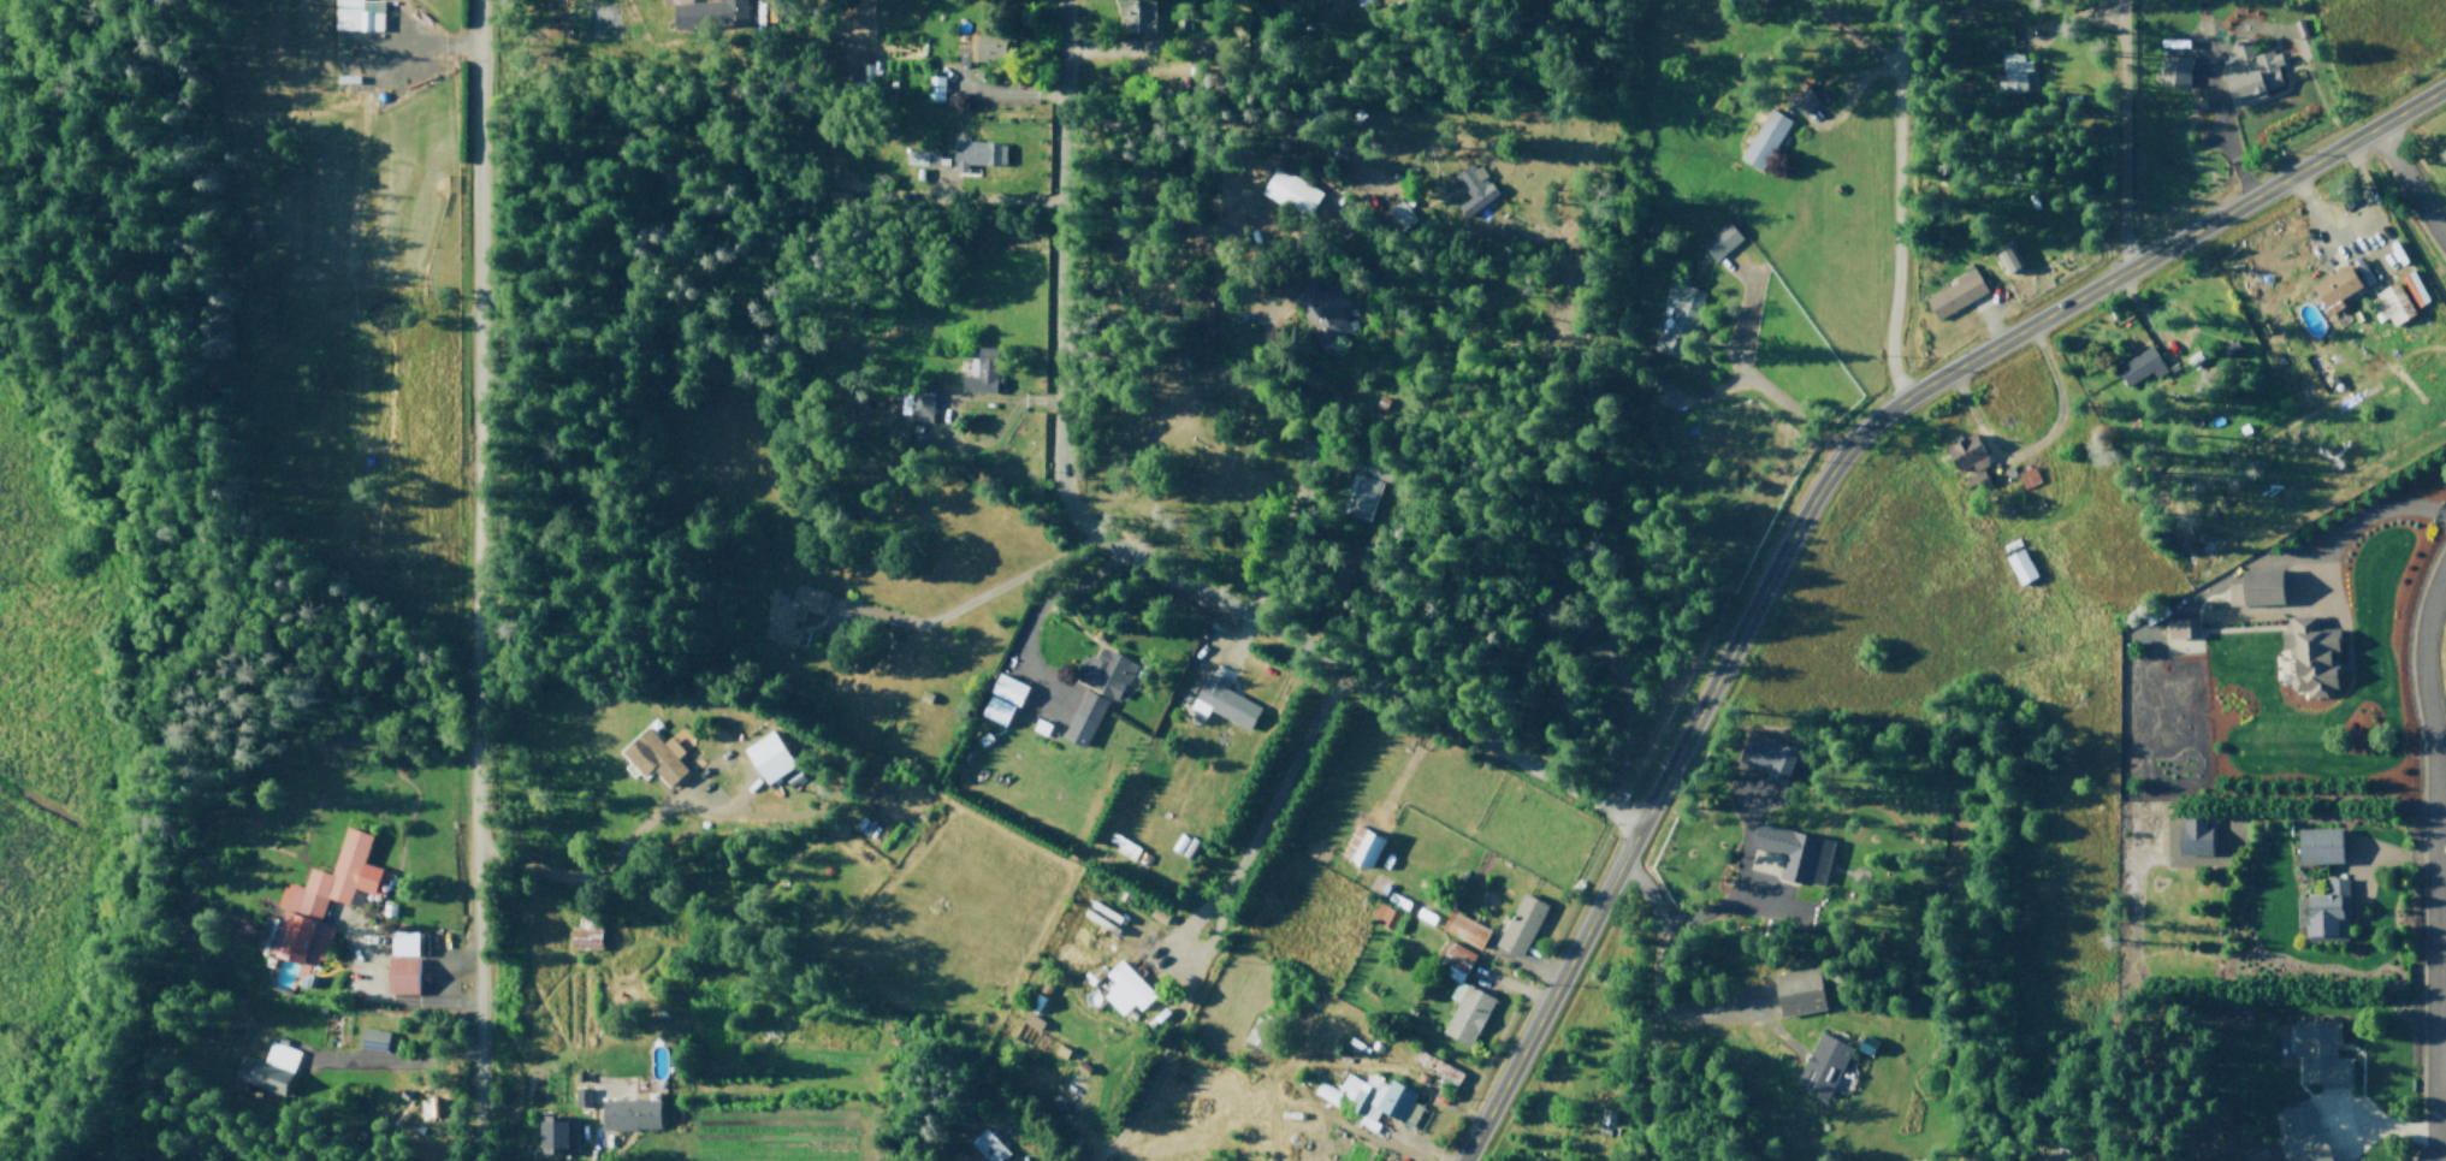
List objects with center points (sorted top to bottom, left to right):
building: (1767, 0)
building: (772, 10)
building: (712, 12)
building: (1136, 14)
road: (2069, 14)
building: (355, 16)
road: (1850, 35)
building: (989, 43)
road: (410, 46)
building: (2309, 47)
road: (1227, 48)
road: (2054, 48)
road: (12, 53)
building: (966, 54)
building: (2172, 70)
building: (2249, 75)
building: (2013, 76)
road: (2069, 77)
building: (938, 87)
road: (990, 90)
building: (1806, 90)
road: (1852, 91)
road: (1231, 117)
road: (2205, 119)
road: (2124, 136)
building: (1763, 138)
building: (976, 155)
building: (920, 159)
road: (2411, 182)
building: (1290, 194)
building: (840, 197)
road: (989, 200)
building: (1476, 201)
road: (1897, 201)
road: (2317, 208)
building: (1719, 243)
building: (2006, 260)
building: (1226, 285)
building: (2335, 289)
building: (1958, 291)
building: (2400, 300)
road: (2121, 310)
road: (1742, 312)
building: (1321, 313)
road: (1252, 319)
road: (1991, 321)
building: (1677, 324)
building: (2223, 351)
building: (2138, 365)
building: (984, 371)
road: (1719, 374)
building: (912, 401)
road: (943, 409)
road: (2032, 449)
road: (1337, 450)
building: (1970, 463)
building: (2030, 475)
road: (1301, 481)
road: (1818, 494)
building: (1367, 502)
road: (2347, 521)
road: (1126, 551)
building: (2019, 567)
road: (473, 580)
road: (2215, 582)
building: (2253, 594)
road: (971, 600)
building: (788, 609)
road: (1038, 611)
building: (1558, 616)
building: (2179, 630)
road: (1234, 642)
road: (1619, 663)
building: (2305, 665)
building: (1103, 673)
building: (1005, 691)
building: (1222, 700)
building: (1080, 721)
building: (1037, 727)
building: (1766, 754)
building: (657, 757)
building: (770, 757)
road: (126, 759)
road: (1405, 768)
road: (1275, 796)
road: (656, 813)
crop: (1534, 829)
road: (2440, 833)
building: (1124, 845)
building: (2190, 845)
building: (1357, 848)
building: (906, 849)
building: (2314, 852)
building: (1795, 853)
road: (2393, 861)
road: (2433, 864)
road: (1735, 879)
road: (2439, 881)
road: (1759, 889)
building: (322, 900)
building: (2320, 912)
building: (1386, 919)
building: (1518, 925)
building: (1463, 929)
building: (587, 940)
building: (407, 943)
building: (405, 975)
building: (1124, 984)
road: (1511, 987)
building: (1799, 991)
building: (1459, 997)
road: (387, 1001)
road: (1656, 1002)
road: (1708, 1011)
building: (1263, 1033)
road: (1157, 1052)
road: (1289, 1058)
road: (392, 1064)
building: (2317, 1065)
building: (1824, 1066)
building: (272, 1068)
building: (1433, 1073)
road: (2439, 1079)
building: (1369, 1095)
building: (585, 1096)
crop: (777, 1101)
building: (633, 1112)
building: (559, 1131)
road: (1385, 1132)
road: (1400, 1132)
road: (2381, 1136)
building: (2294, 1138)
building: (984, 1145)
road: (600, 1153)
road: (538, 1160)

